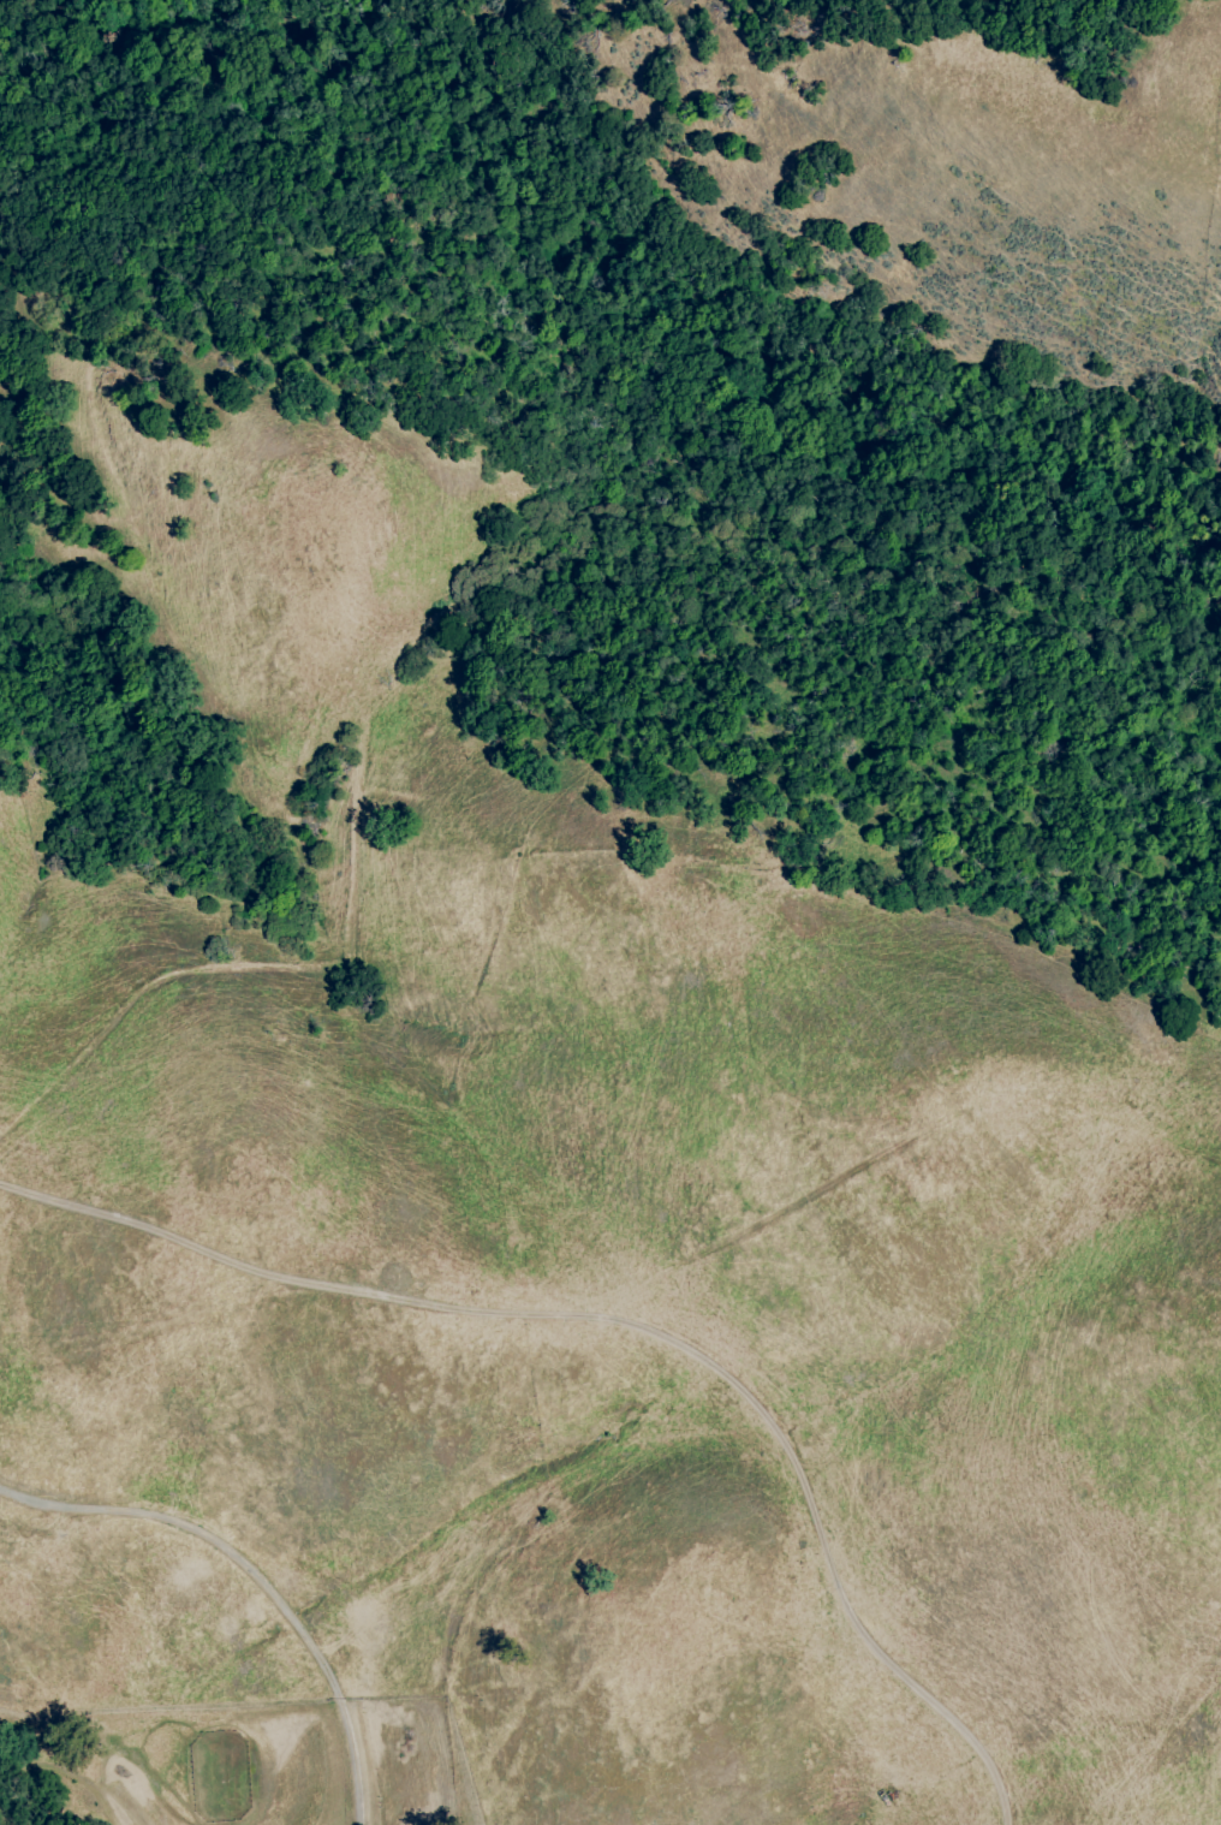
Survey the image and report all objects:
road: (630, 1325)
road: (255, 1575)

